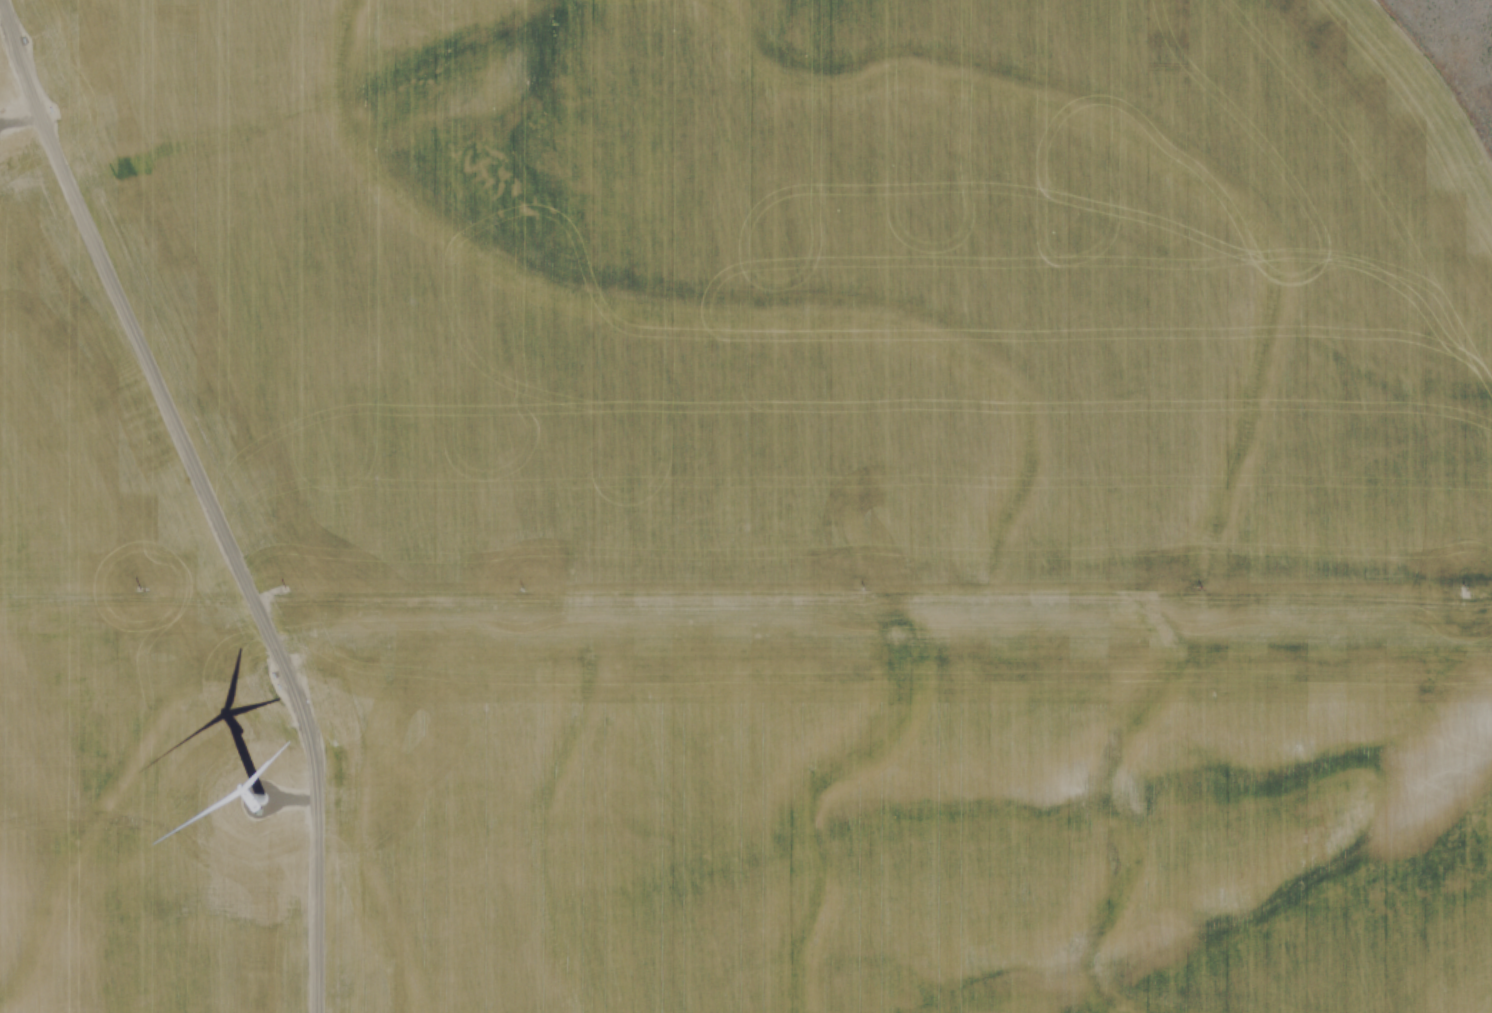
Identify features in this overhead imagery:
road: (209, 496)
wind turbine: (250, 795)

